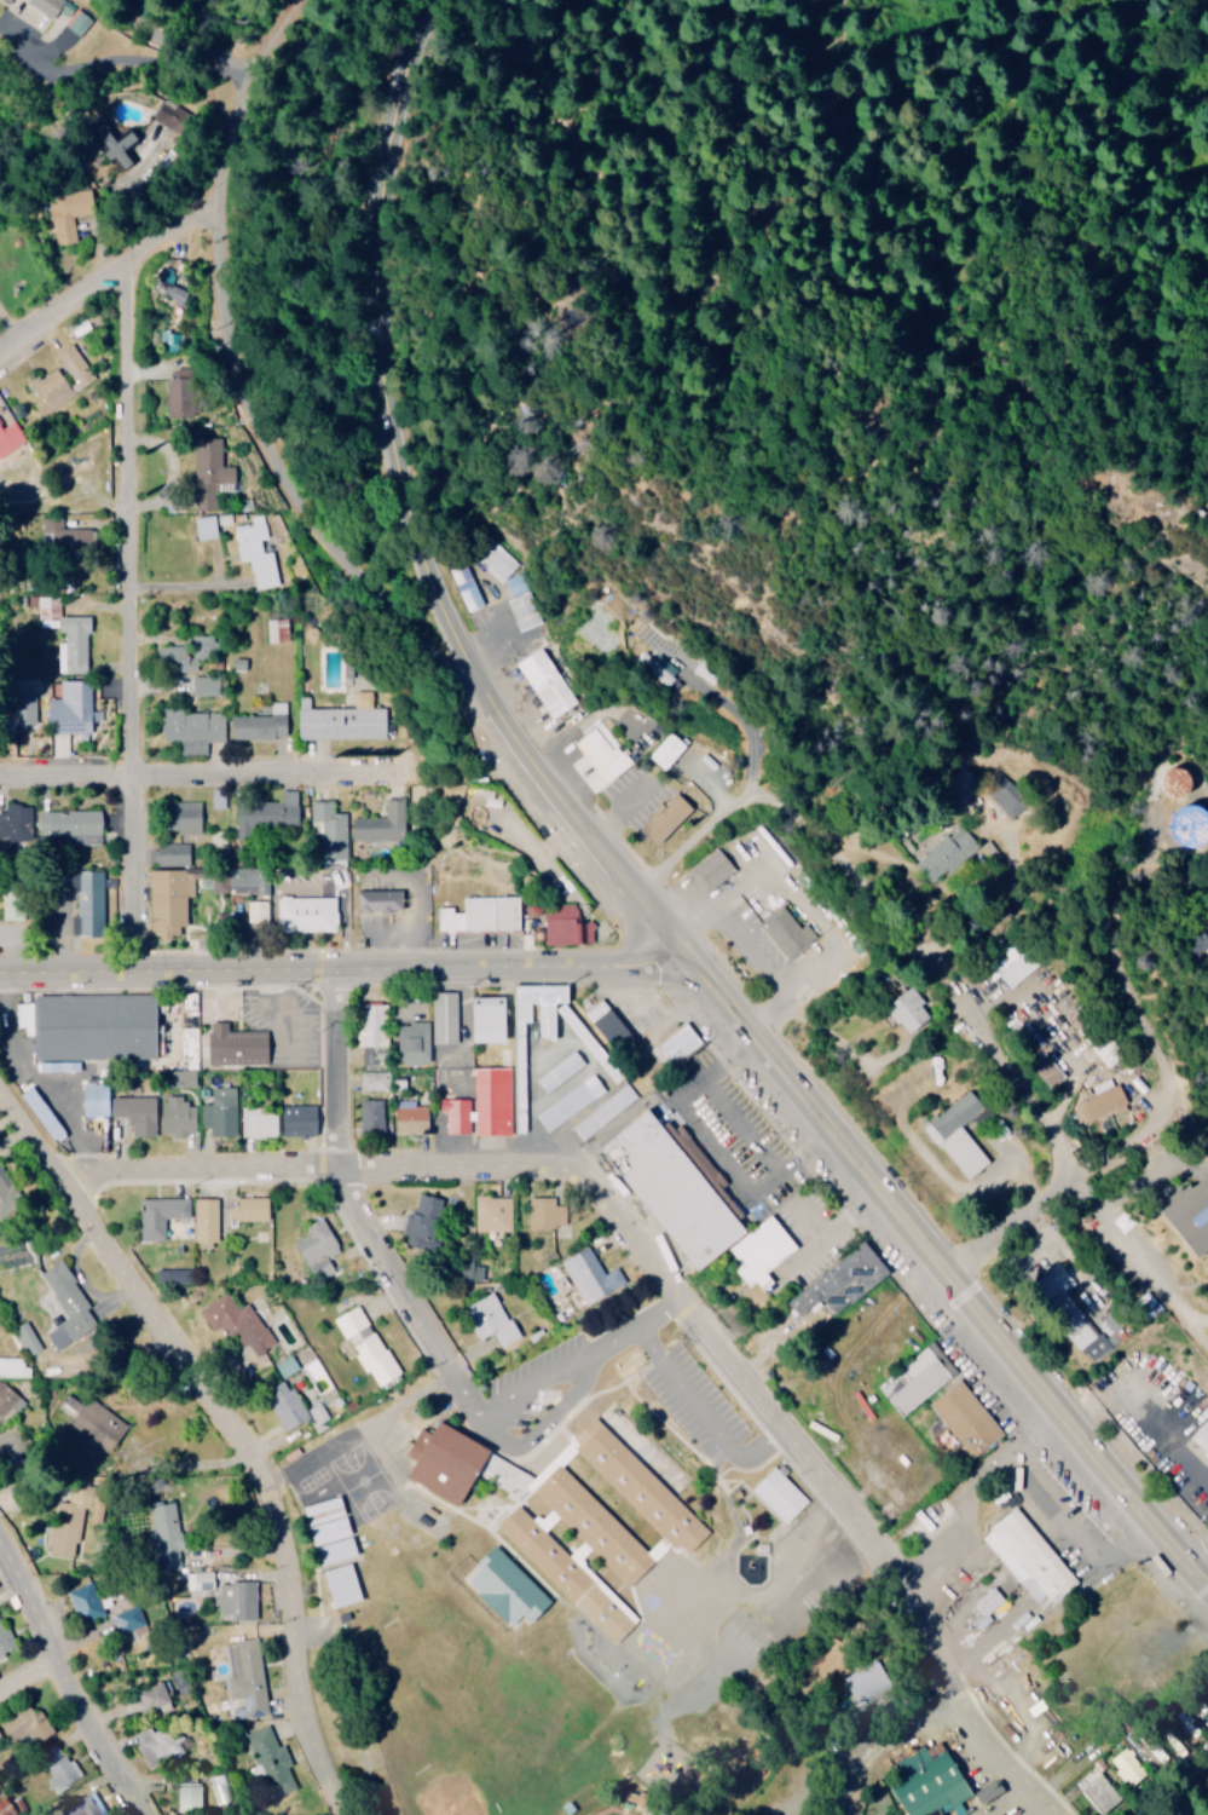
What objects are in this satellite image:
road: (152, 16)
road: (190, 133)
building: (144, 151)
road: (374, 221)
road: (114, 272)
building: (74, 364)
building: (50, 391)
building: (177, 397)
road: (258, 428)
building: (10, 437)
building: (0, 461)
building: (208, 472)
building: (207, 526)
building: (64, 535)
building: (256, 551)
building: (466, 583)
building: (48, 610)
building: (522, 611)
road: (129, 620)
building: (277, 629)
building: (76, 643)
building: (177, 658)
building: (547, 681)
building: (206, 686)
building: (74, 708)
building: (341, 720)
building: (261, 724)
road: (848, 725)
building: (195, 728)
building: (667, 749)
building: (605, 751)
road: (215, 779)
building: (1175, 782)
building: (271, 811)
building: (187, 817)
building: (669, 817)
building: (17, 823)
building: (1189, 824)
building: (75, 825)
building: (380, 825)
building: (329, 828)
building: (169, 854)
building: (944, 854)
building: (712, 869)
building: (247, 878)
road: (756, 878)
building: (178, 897)
building: (382, 900)
building: (89, 903)
building: (259, 911)
building: (307, 914)
building: (480, 915)
building: (568, 926)
building: (787, 932)
building: (1198, 943)
building: (1011, 968)
road: (336, 975)
road: (941, 980)
building: (908, 1012)
building: (445, 1018)
building: (493, 1019)
building: (372, 1024)
building: (625, 1024)
building: (549, 1030)
building: (94, 1032)
building: (584, 1035)
building: (414, 1042)
building: (678, 1043)
building: (229, 1050)
road: (751, 1053)
building: (374, 1055)
building: (1048, 1070)
building: (375, 1079)
road: (1068, 1099)
building: (491, 1100)
building: (570, 1102)
building: (92, 1104)
building: (1104, 1104)
building: (605, 1111)
building: (45, 1112)
building: (456, 1114)
building: (134, 1117)
building: (372, 1117)
building: (412, 1117)
parking lot: (735, 1120)
building: (175, 1123)
building: (216, 1124)
building: (255, 1127)
building: (296, 1127)
building: (958, 1134)
road: (1135, 1136)
building: (4, 1182)
building: (665, 1191)
building: (253, 1209)
building: (549, 1212)
building: (495, 1214)
building: (161, 1215)
building: (1187, 1217)
building: (426, 1221)
building: (207, 1222)
road: (358, 1228)
road: (1002, 1240)
building: (319, 1249)
building: (174, 1275)
building: (593, 1275)
road: (659, 1278)
building: (844, 1281)
building: (1056, 1281)
building: (70, 1307)
building: (226, 1314)
building: (491, 1319)
building: (29, 1337)
building: (1102, 1337)
road: (1115, 1343)
building: (369, 1346)
building: (288, 1365)
building: (13, 1367)
building: (918, 1381)
building: (8, 1400)
building: (288, 1405)
building: (94, 1418)
building: (970, 1418)
road: (231, 1434)
building: (1202, 1436)
building: (450, 1462)
building: (780, 1494)
building: (601, 1527)
building: (68, 1529)
building: (333, 1531)
building: (167, 1537)
building: (1034, 1558)
building: (200, 1580)
building: (345, 1585)
building: (510, 1589)
road: (646, 1592)
building: (238, 1600)
building: (87, 1602)
building: (994, 1602)
building: (131, 1620)
park: (475, 1653)
building: (249, 1677)
road: (28, 1683)
road: (64, 1683)
building: (156, 1696)
building: (23, 1723)
building: (46, 1732)
building: (1, 1736)
building: (157, 1744)
road: (883, 1745)
building: (1125, 1765)
building: (60, 1768)
building: (930, 1782)
building: (1096, 1788)
building: (189, 1794)
building: (10, 1804)
building: (87, 1805)

